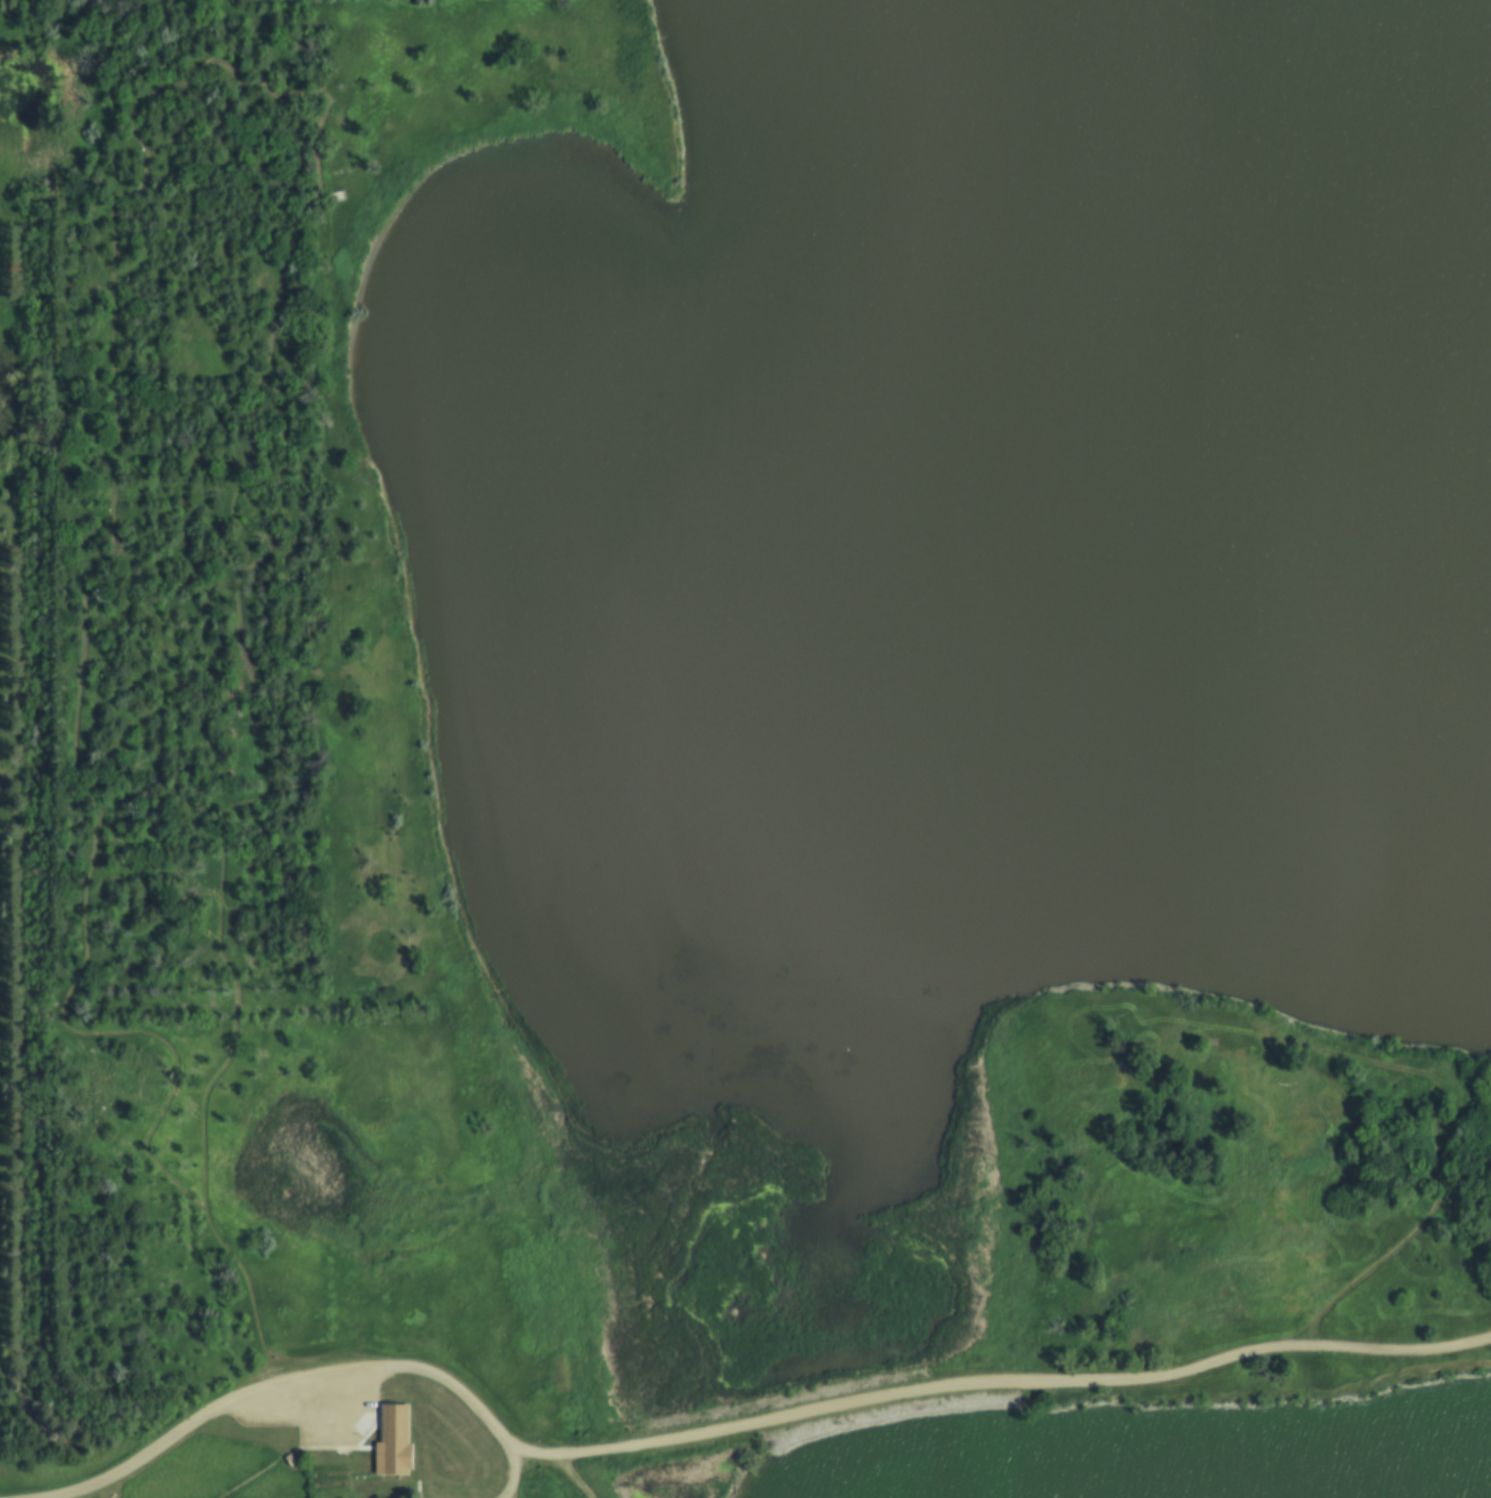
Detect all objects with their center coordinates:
road: (263, 88)
road: (1459, 1103)
road: (1440, 1180)
parking lot: (319, 1415)
road: (753, 1429)
building: (402, 1462)
road: (514, 1477)

